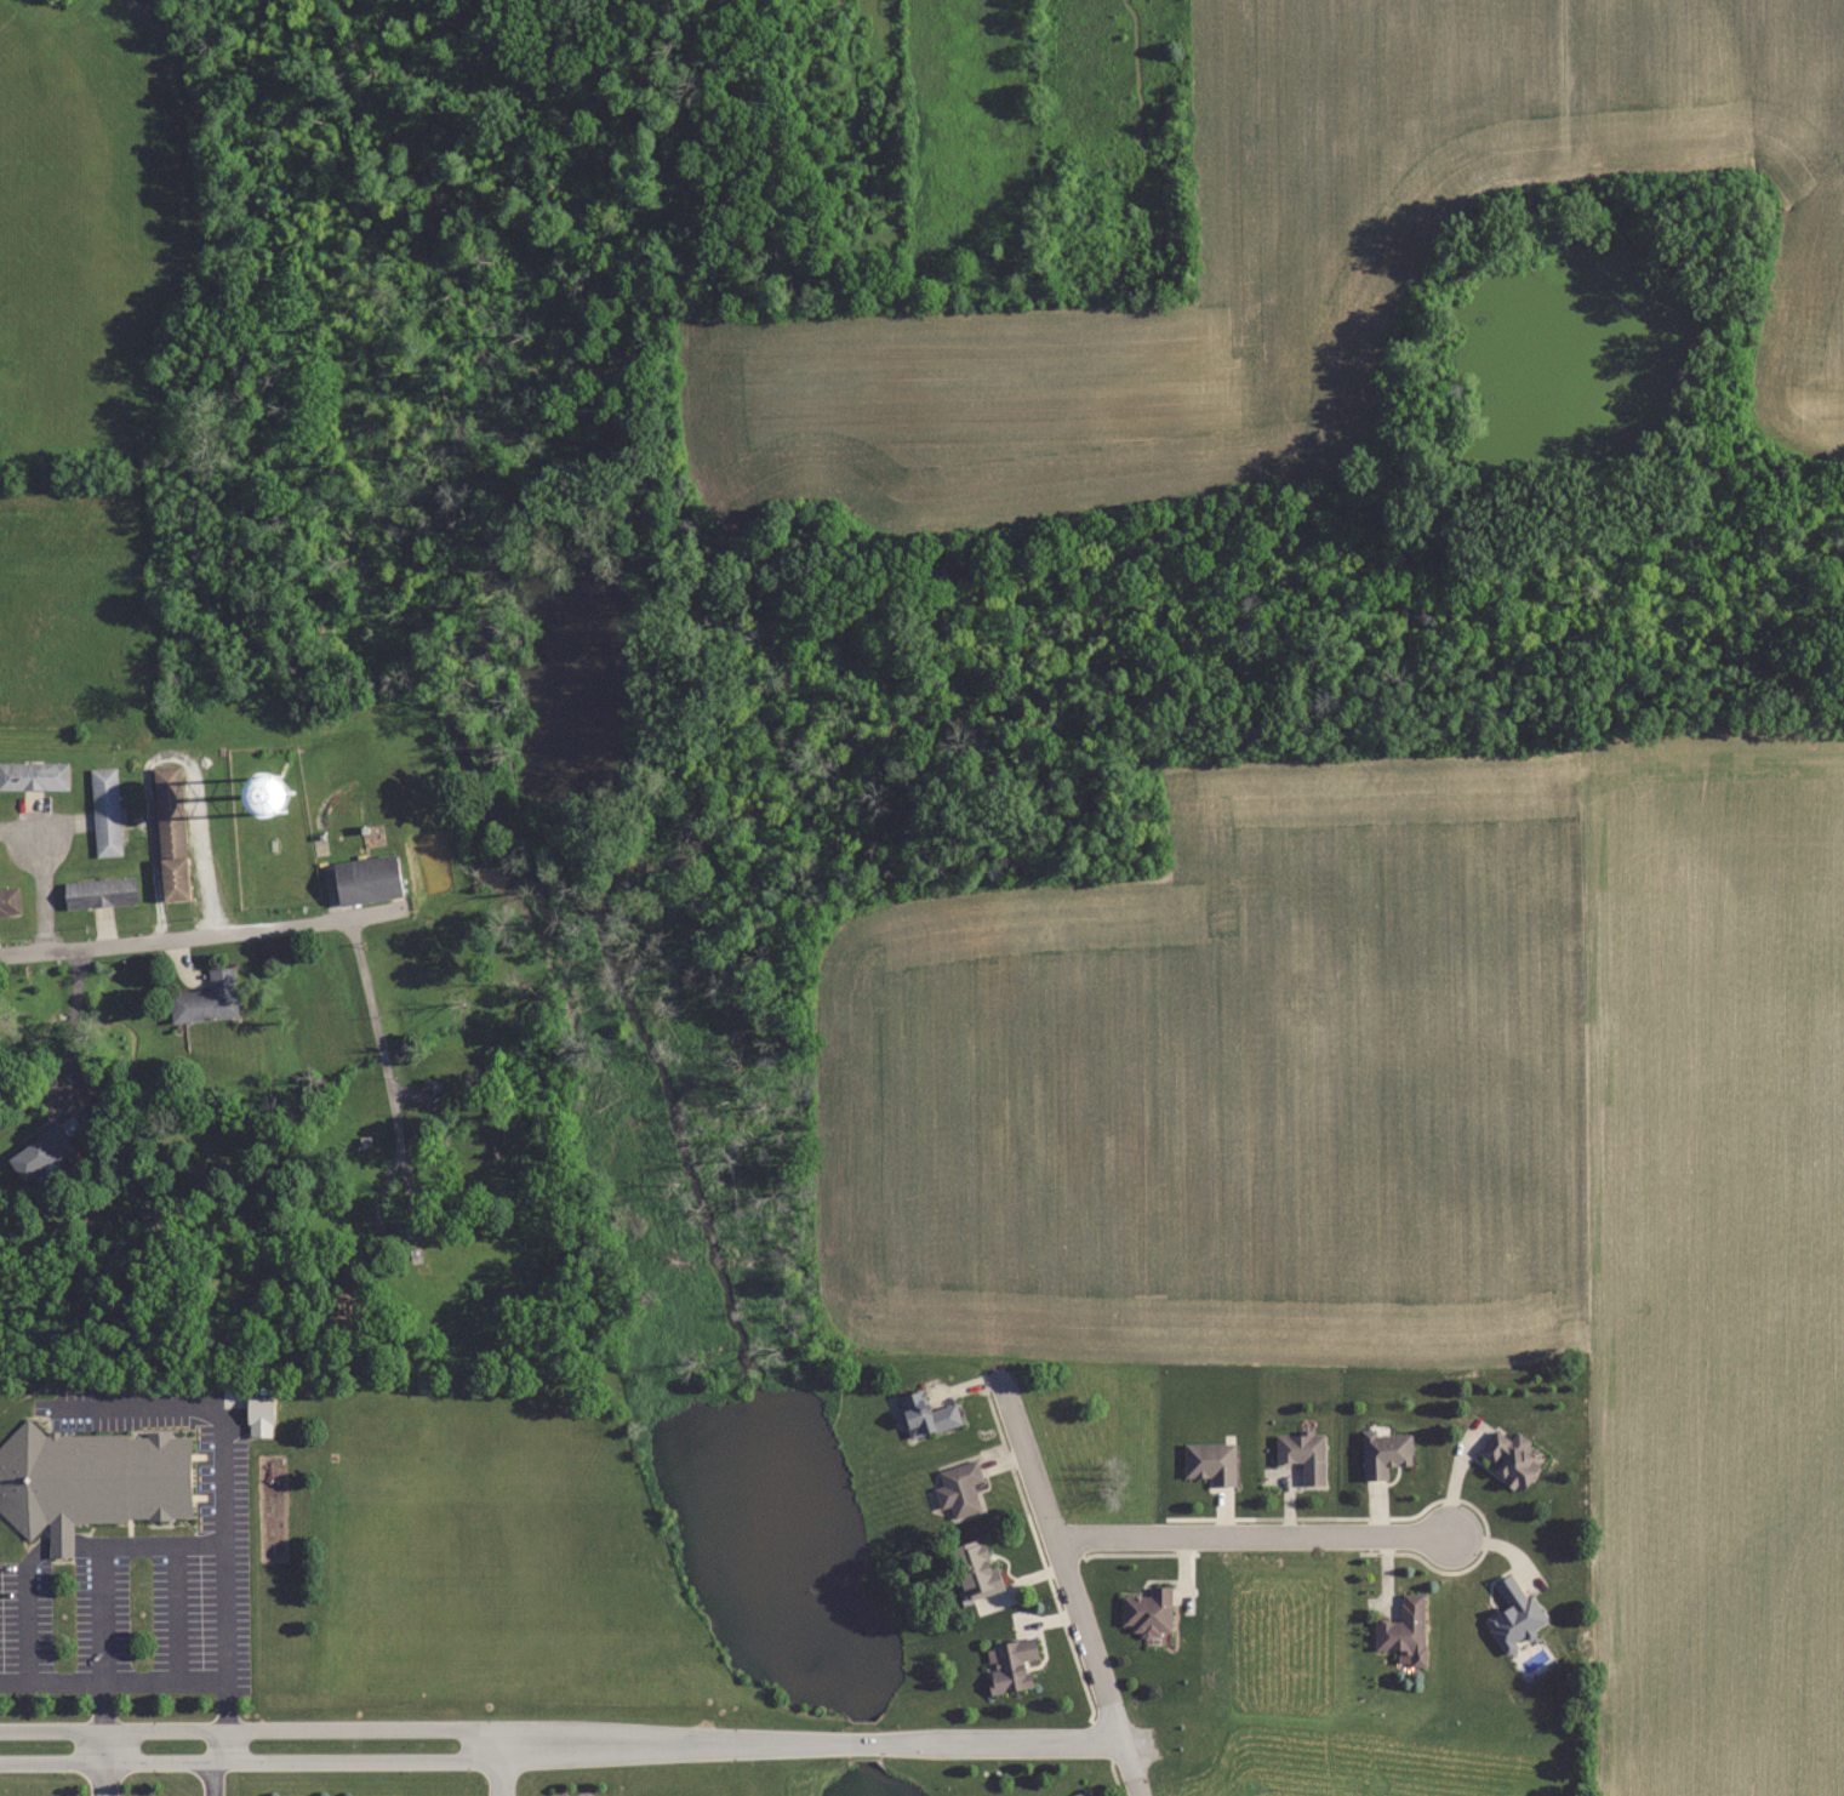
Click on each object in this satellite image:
road: (167, 756)
building: (34, 776)
building: (105, 813)
building: (170, 833)
building: (366, 880)
road: (42, 882)
building: (99, 893)
building: (8, 902)
road: (200, 936)
building: (206, 999)
road: (73, 1021)
building: (39, 1153)
building: (257, 1305)
building: (926, 1415)
building: (258, 1416)
building: (1385, 1452)
building: (1302, 1454)
building: (1509, 1456)
building: (1210, 1461)
building: (90, 1479)
building: (960, 1489)
road: (1251, 1536)
road: (160, 1549)
building: (975, 1568)
road: (1071, 1589)
building: (1148, 1612)
building: (1514, 1614)
building: (1404, 1630)
building: (1011, 1665)
road: (343, 1728)
road: (1055, 1740)
road: (501, 1744)
road: (219, 1746)
road: (102, 1747)
road: (343, 1762)
road: (501, 1778)
road: (211, 1779)
road: (101, 1780)
building: (1080, 1795)

